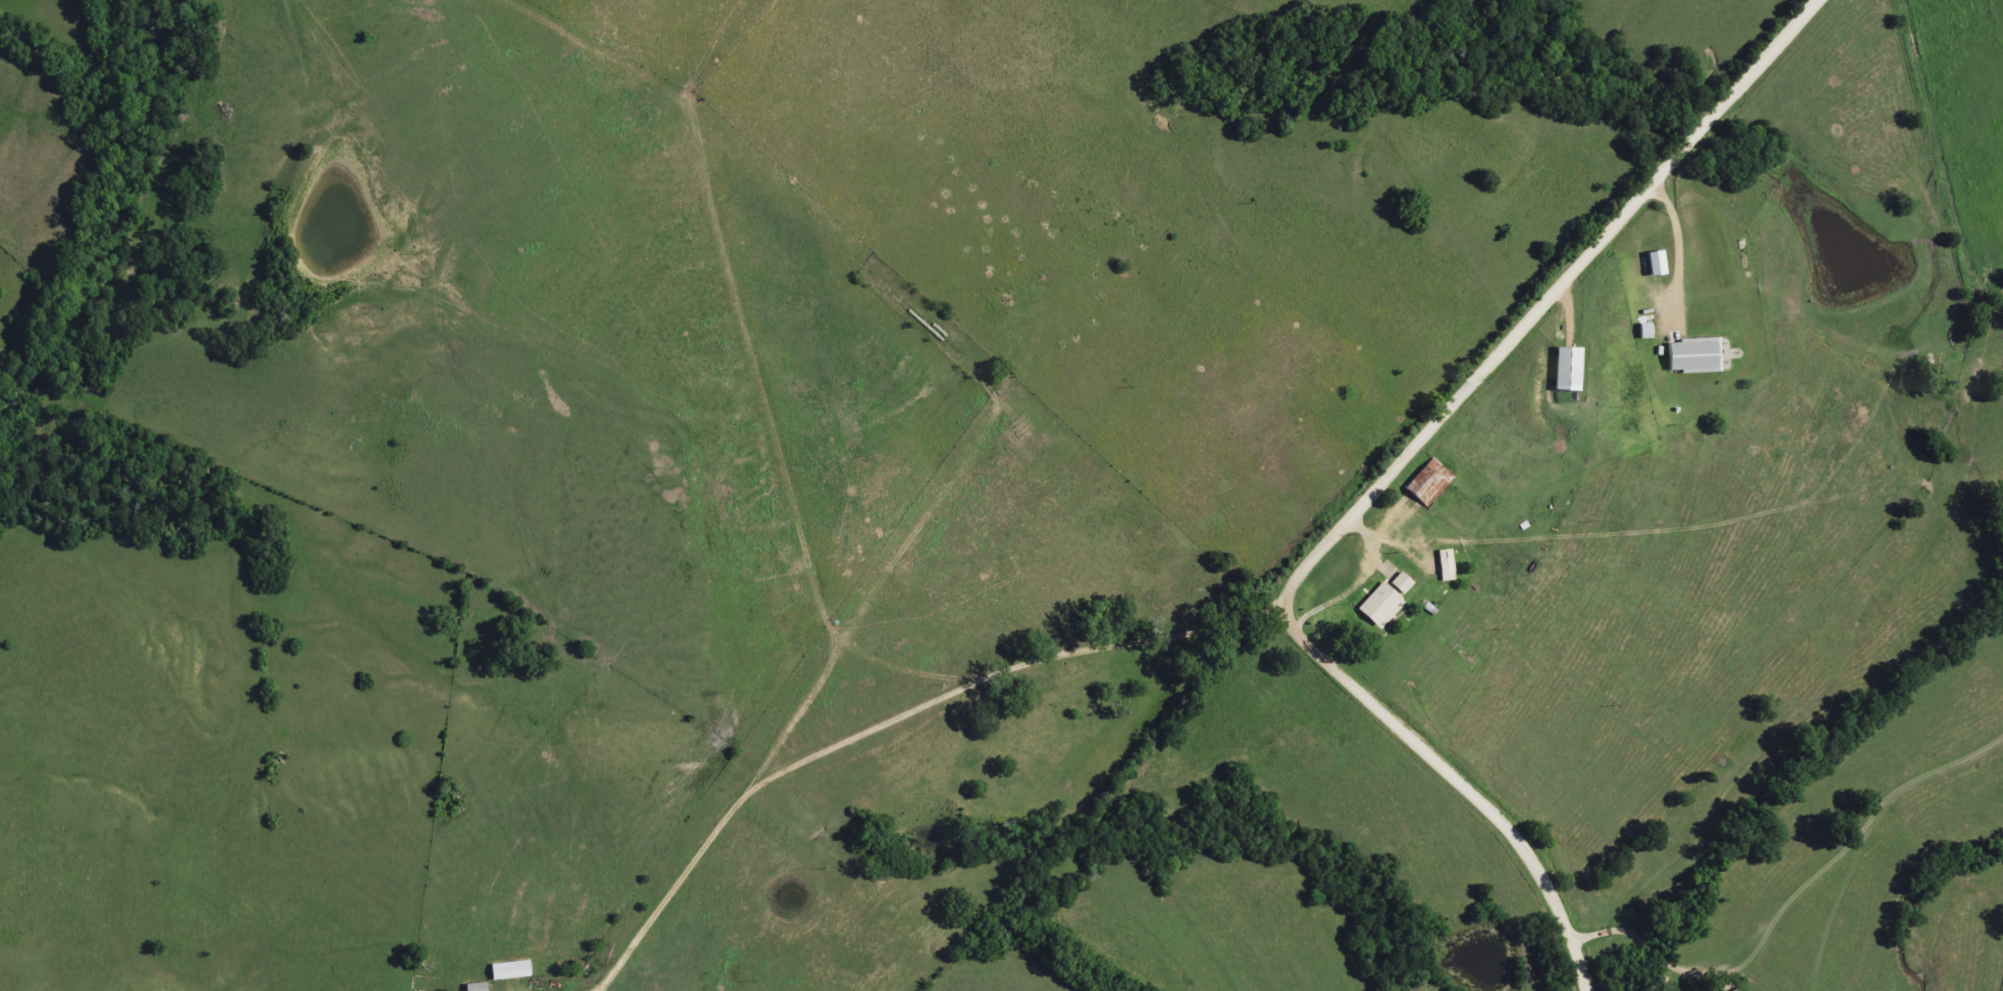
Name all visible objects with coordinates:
building: (1655, 263)
building: (1645, 331)
building: (1693, 355)
building: (1567, 369)
road: (1384, 483)
building: (1429, 483)
building: (1446, 566)
building: (1401, 583)
building: (1379, 604)
building: (509, 970)
road: (1671, 971)
building: (475, 987)

